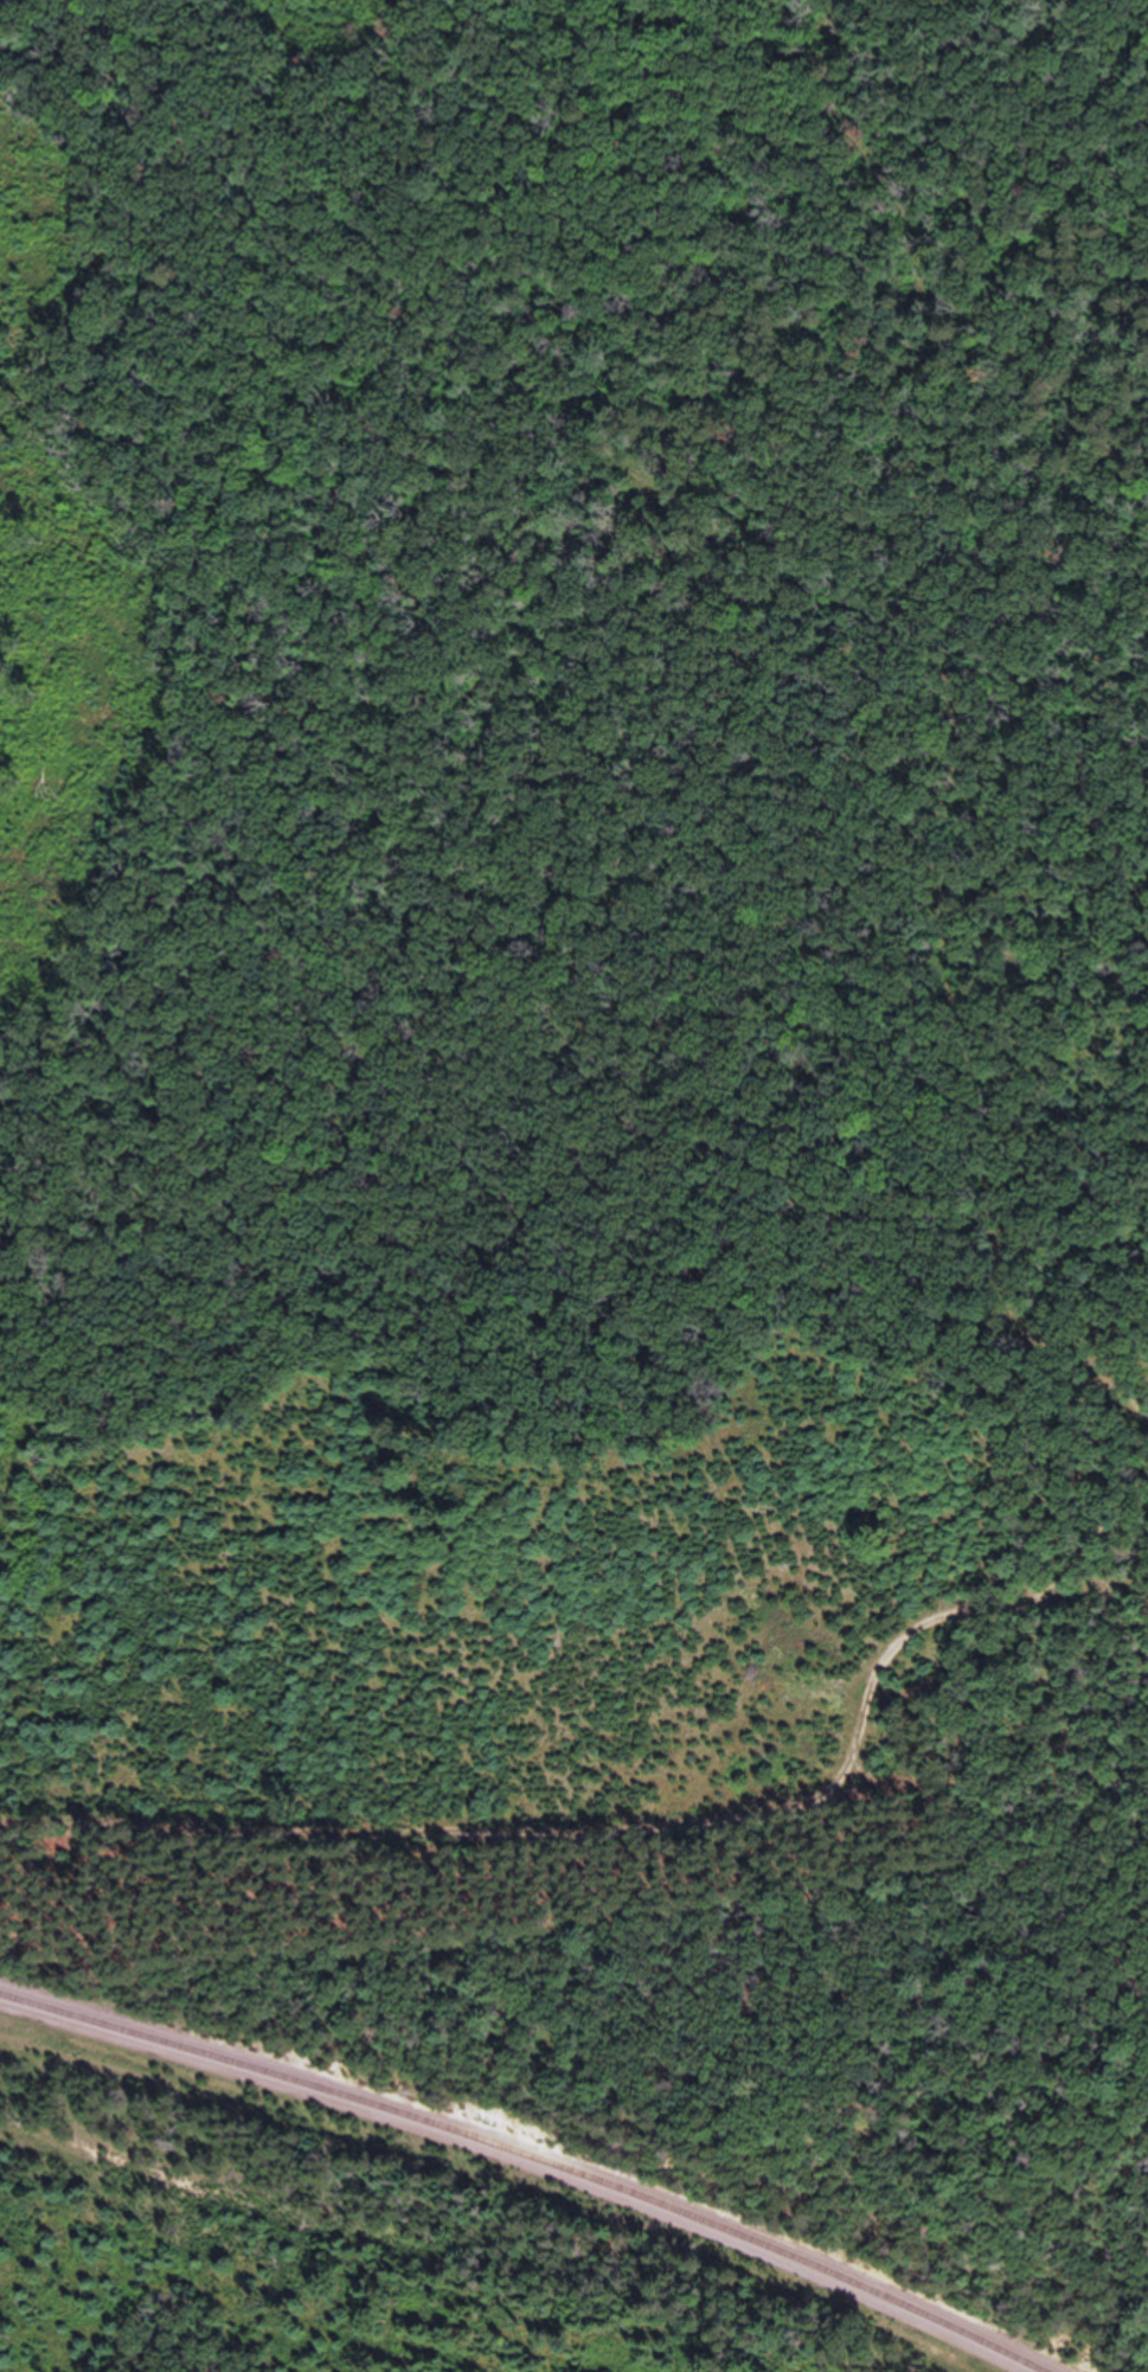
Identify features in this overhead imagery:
park: (575, 775)
railway: (528, 2156)

